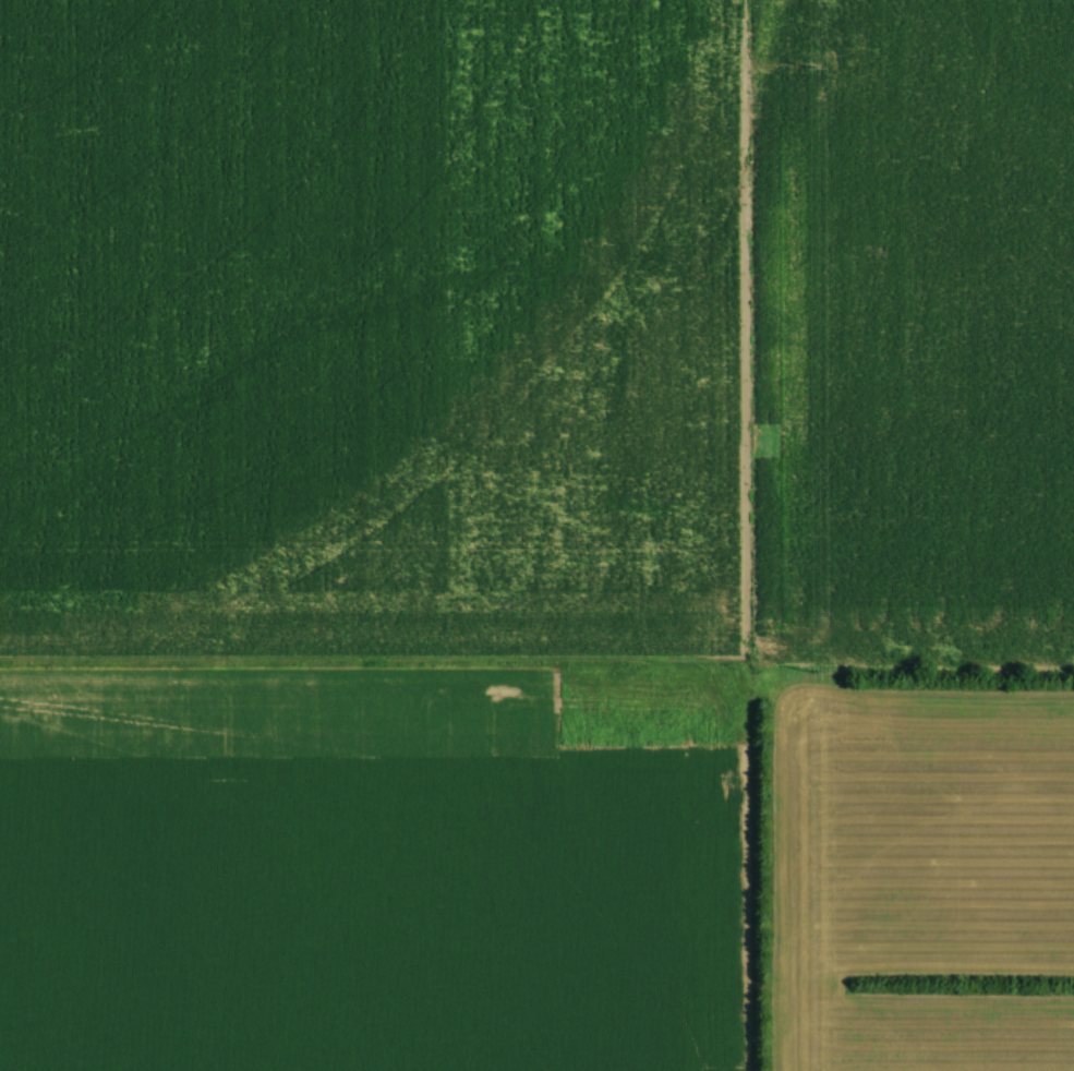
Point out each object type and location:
crop: (908, 329)

